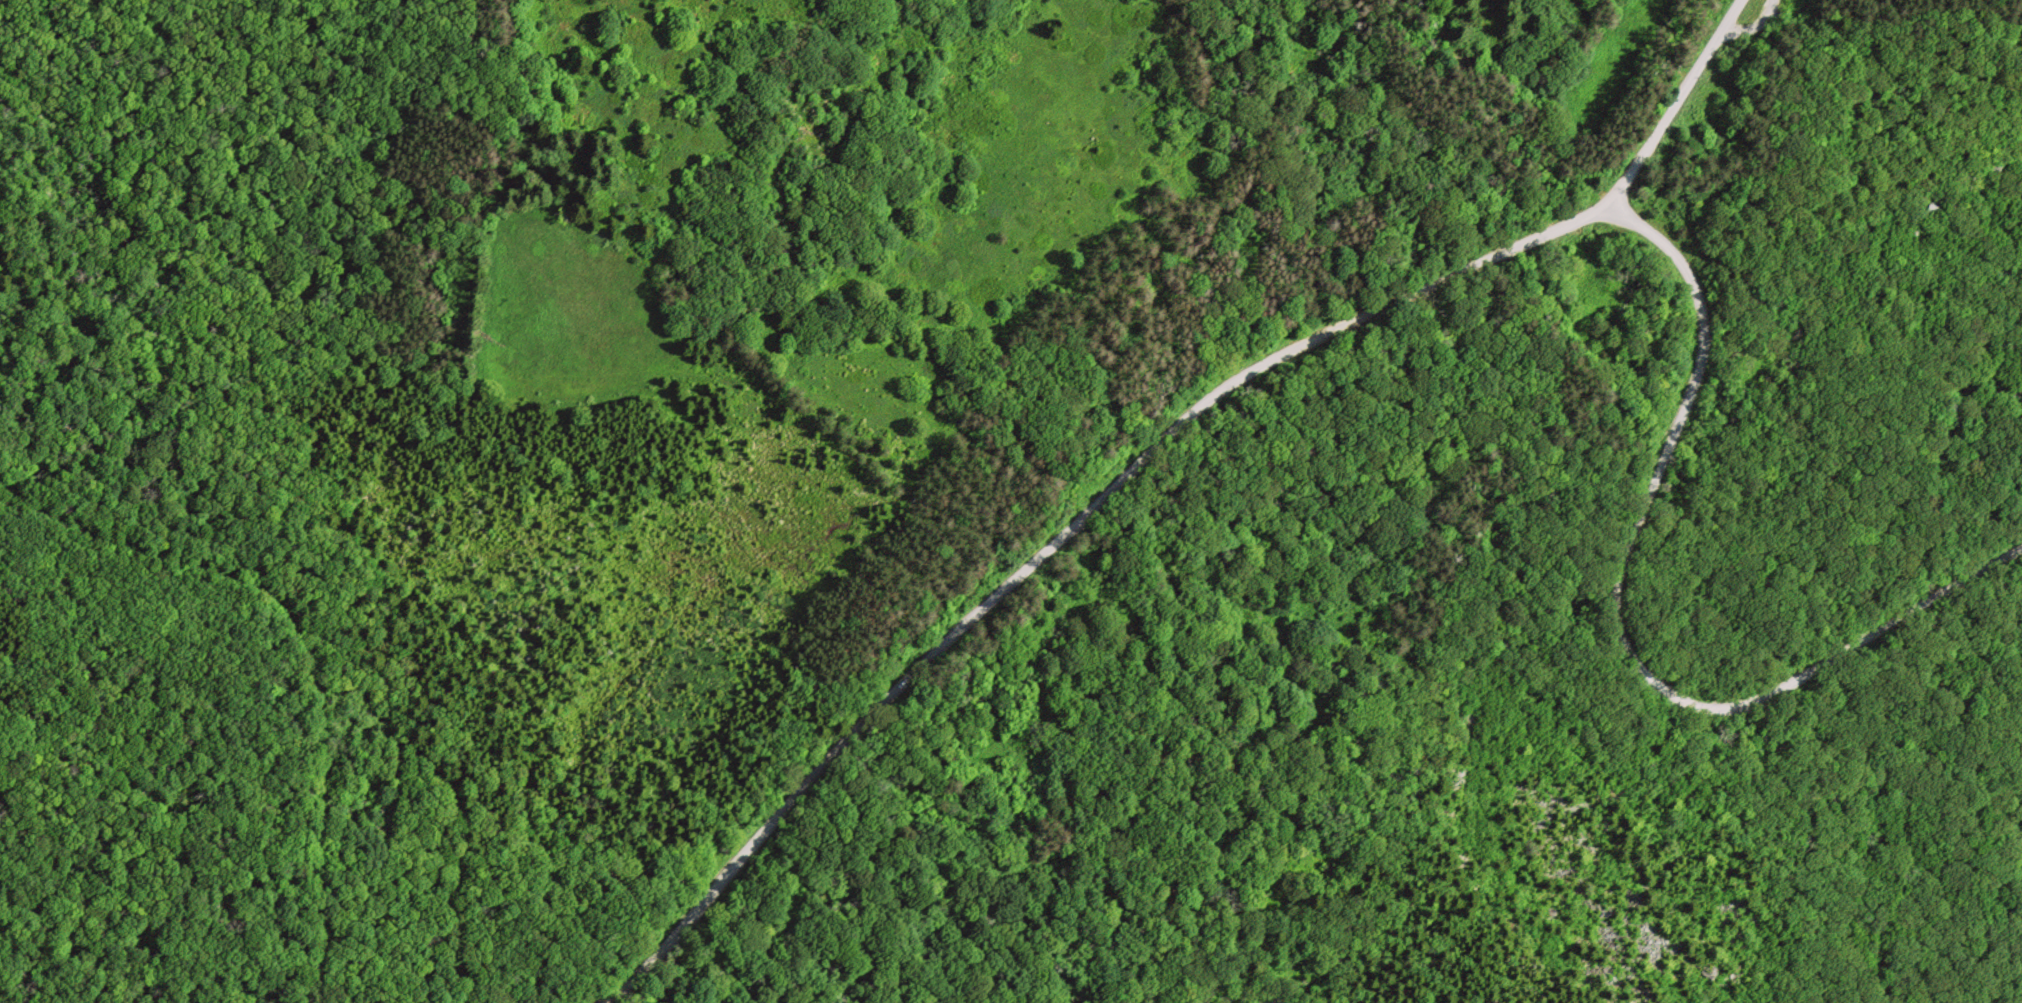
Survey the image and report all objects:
parking lot: (1766, 17)
road: (1753, 29)
road: (1676, 104)
building: (1928, 214)
road: (1058, 540)
road: (1621, 629)
road: (311, 645)

